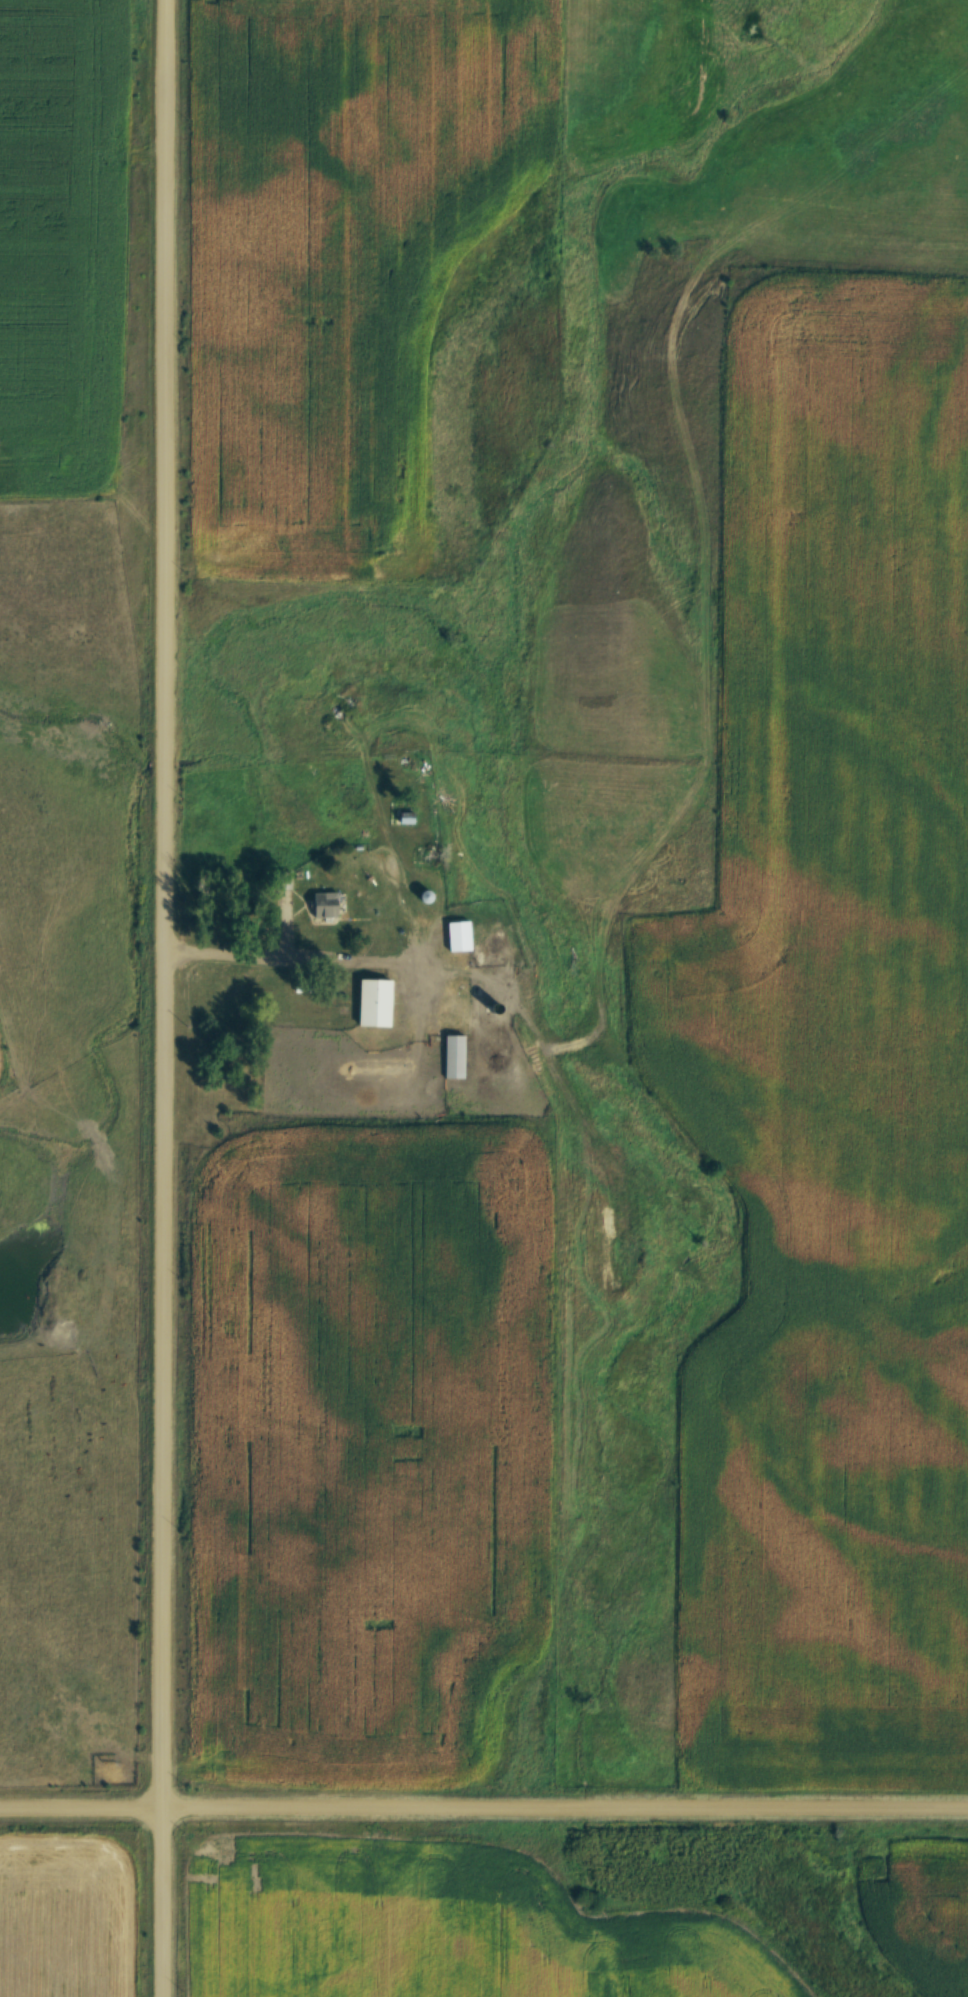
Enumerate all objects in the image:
building: (323, 903)
building: (454, 934)
road: (335, 951)
road: (173, 998)
building: (371, 1001)
building: (450, 1055)
road: (484, 1816)

